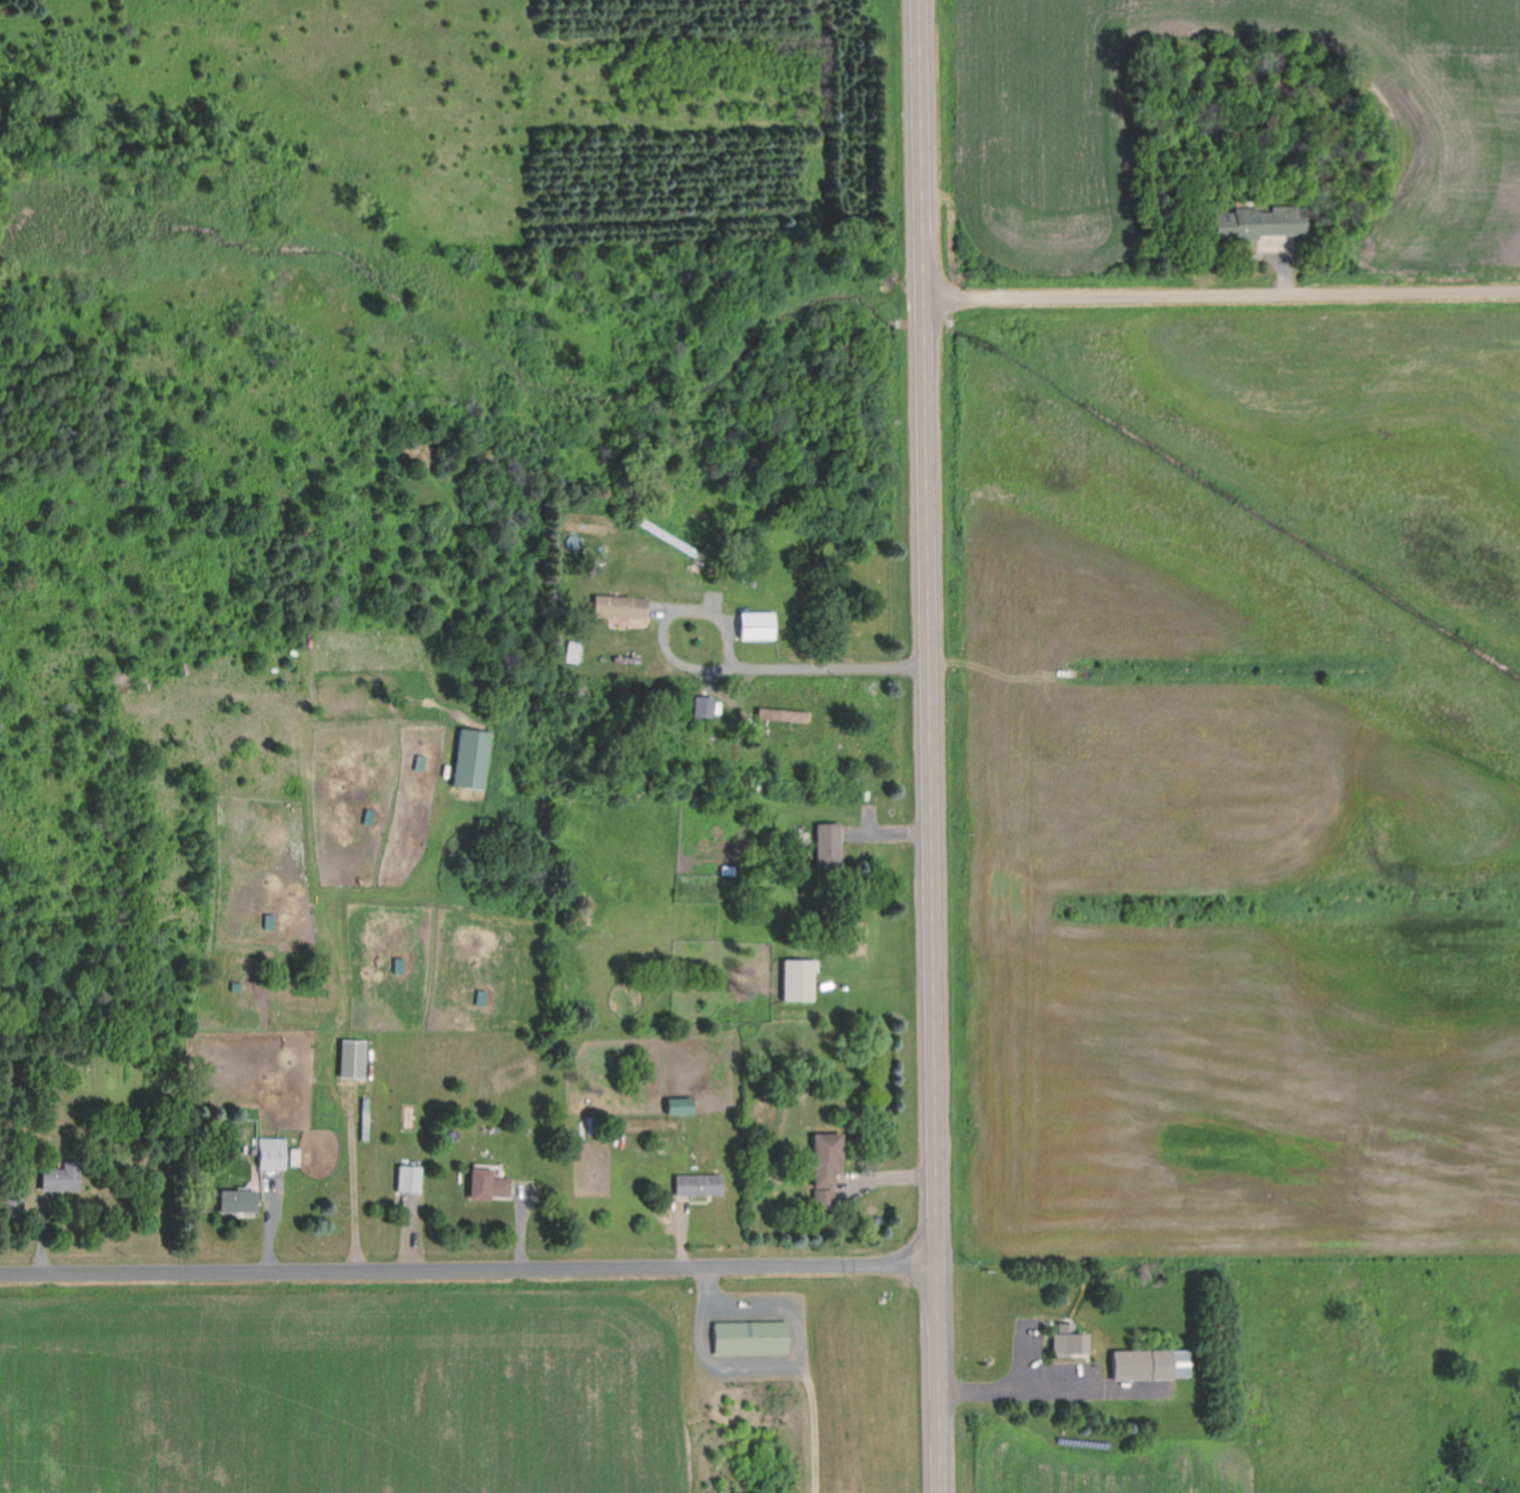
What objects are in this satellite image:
building: (1260, 222)
road: (1224, 287)
building: (620, 607)
building: (756, 625)
road: (797, 661)
road: (932, 746)
building: (828, 846)
building: (353, 1058)
building: (273, 1153)
building: (824, 1166)
building: (60, 1176)
building: (409, 1178)
building: (489, 1184)
building: (699, 1184)
building: (237, 1201)
building: (14, 1207)
road: (468, 1265)
building: (751, 1337)
building: (1068, 1341)
building: (1142, 1365)

